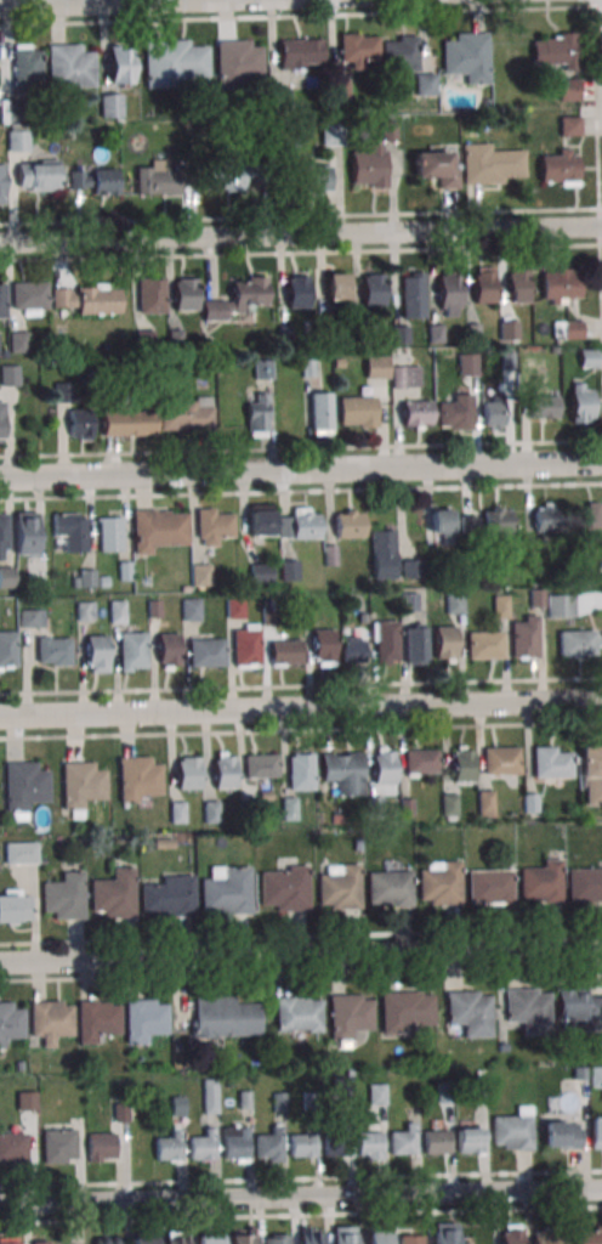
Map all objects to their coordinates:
road: (127, 4)
road: (592, 4)
road: (597, 6)
road: (295, 16)
building: (358, 49)
building: (300, 52)
building: (555, 52)
building: (401, 56)
building: (467, 56)
building: (174, 61)
building: (238, 62)
building: (25, 66)
building: (70, 66)
building: (120, 66)
building: (425, 85)
building: (341, 87)
building: (568, 89)
building: (282, 98)
building: (110, 104)
building: (225, 108)
building: (19, 109)
building: (568, 125)
building: (390, 132)
building: (86, 135)
building: (331, 135)
building: (17, 137)
road: (597, 158)
building: (490, 164)
building: (370, 166)
building: (435, 166)
building: (558, 166)
building: (38, 174)
building: (237, 175)
building: (313, 179)
building: (164, 180)
building: (1, 181)
building: (95, 182)
road: (300, 216)
road: (301, 234)
road: (300, 253)
building: (483, 284)
building: (517, 284)
building: (335, 285)
building: (560, 285)
building: (371, 289)
building: (297, 290)
building: (184, 294)
building: (150, 295)
building: (449, 295)
building: (29, 296)
building: (87, 298)
building: (237, 298)
building: (413, 298)
building: (2, 299)
building: (359, 321)
building: (326, 328)
building: (507, 328)
building: (567, 328)
building: (473, 333)
building: (435, 334)
building: (284, 337)
building: (399, 337)
building: (175, 340)
building: (18, 341)
building: (146, 341)
building: (555, 351)
building: (409, 360)
building: (589, 360)
building: (507, 362)
building: (339, 363)
building: (467, 363)
building: (376, 366)
building: (262, 369)
building: (308, 369)
building: (10, 375)
building: (405, 377)
building: (62, 391)
building: (581, 402)
building: (544, 406)
building: (357, 411)
building: (455, 411)
building: (320, 413)
building: (416, 413)
building: (494, 413)
building: (186, 414)
building: (256, 414)
building: (1, 422)
building: (127, 422)
building: (80, 424)
road: (301, 448)
road: (301, 466)
road: (301, 492)
building: (260, 520)
building: (547, 521)
building: (299, 522)
building: (586, 522)
building: (487, 524)
building: (158, 527)
building: (350, 527)
building: (214, 528)
building: (442, 528)
building: (70, 531)
building: (27, 533)
building: (110, 533)
building: (4, 536)
building: (382, 553)
building: (330, 556)
building: (585, 566)
building: (411, 570)
building: (290, 571)
building: (124, 572)
building: (260, 572)
building: (200, 573)
building: (7, 577)
building: (86, 579)
building: (75, 583)
building: (103, 583)
building: (333, 594)
building: (538, 598)
building: (408, 603)
building: (454, 603)
building: (500, 605)
building: (560, 605)
building: (233, 607)
building: (189, 609)
building: (85, 610)
building: (117, 610)
building: (154, 610)
building: (32, 617)
building: (268, 617)
building: (362, 620)
building: (523, 637)
building: (385, 641)
building: (444, 641)
building: (578, 641)
building: (415, 643)
building: (483, 644)
building: (245, 645)
building: (323, 645)
building: (8, 649)
building: (352, 649)
building: (52, 650)
building: (132, 650)
building: (167, 650)
building: (206, 651)
building: (285, 651)
building: (96, 652)
road: (301, 685)
road: (301, 709)
road: (301, 730)
building: (500, 759)
building: (420, 760)
building: (461, 763)
building: (260, 765)
building: (550, 765)
building: (384, 768)
building: (223, 769)
building: (300, 770)
building: (187, 771)
building: (342, 771)
building: (591, 774)
building: (137, 776)
building: (79, 785)
building: (23, 786)
building: (448, 803)
building: (530, 804)
building: (485, 805)
building: (374, 808)
building: (407, 809)
building: (289, 810)
building: (177, 814)
building: (211, 814)
building: (335, 820)
building: (164, 844)
building: (357, 847)
building: (21, 852)
building: (543, 883)
building: (489, 884)
building: (585, 884)
building: (388, 887)
building: (442, 887)
building: (285, 889)
building: (341, 889)
building: (228, 893)
building: (113, 897)
building: (64, 898)
building: (170, 898)
building: (15, 906)
road: (301, 935)
road: (301, 954)
road: (301, 972)
building: (578, 1010)
building: (299, 1013)
building: (405, 1013)
building: (528, 1013)
building: (470, 1014)
building: (223, 1017)
building: (350, 1017)
building: (144, 1018)
building: (50, 1019)
building: (96, 1019)
building: (11, 1025)
building: (502, 1048)
building: (19, 1067)
building: (579, 1075)
building: (596, 1076)
building: (343, 1091)
building: (376, 1093)
building: (479, 1093)
building: (444, 1095)
building: (210, 1096)
building: (25, 1099)
building: (244, 1101)
building: (311, 1101)
building: (279, 1102)
building: (178, 1108)
building: (121, 1114)
building: (512, 1130)
building: (597, 1131)
building: (563, 1137)
building: (470, 1142)
building: (404, 1143)
building: (437, 1143)
building: (59, 1144)
building: (13, 1146)
building: (101, 1146)
building: (235, 1146)
building: (271, 1147)
building: (302, 1147)
building: (336, 1147)
building: (370, 1147)
building: (170, 1148)
building: (203, 1148)
road: (301, 1178)
road: (301, 1195)
road: (301, 1215)
building: (445, 1233)
building: (511, 1233)
building: (343, 1234)
building: (309, 1235)
building: (244, 1237)
building: (376, 1237)
building: (176, 1238)
building: (208, 1238)
building: (276, 1238)
building: (410, 1238)
building: (544, 1238)
building: (589, 1238)
building: (8, 1240)
building: (44, 1242)
building: (107, 1242)
building: (143, 1243)

